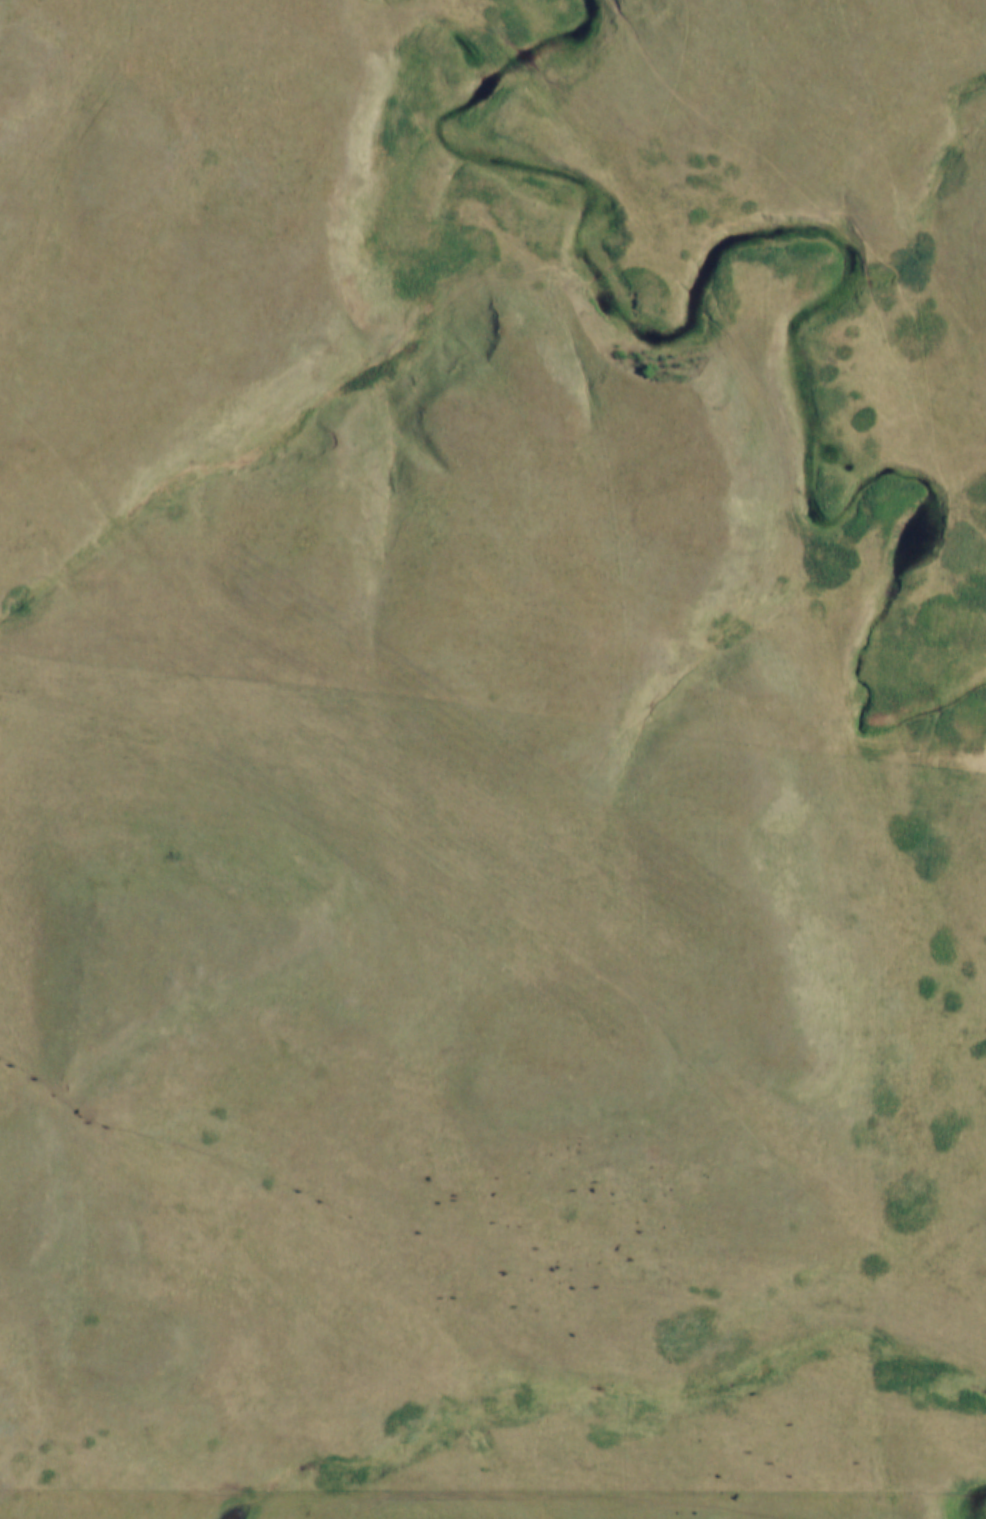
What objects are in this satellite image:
road: (983, 1311)

